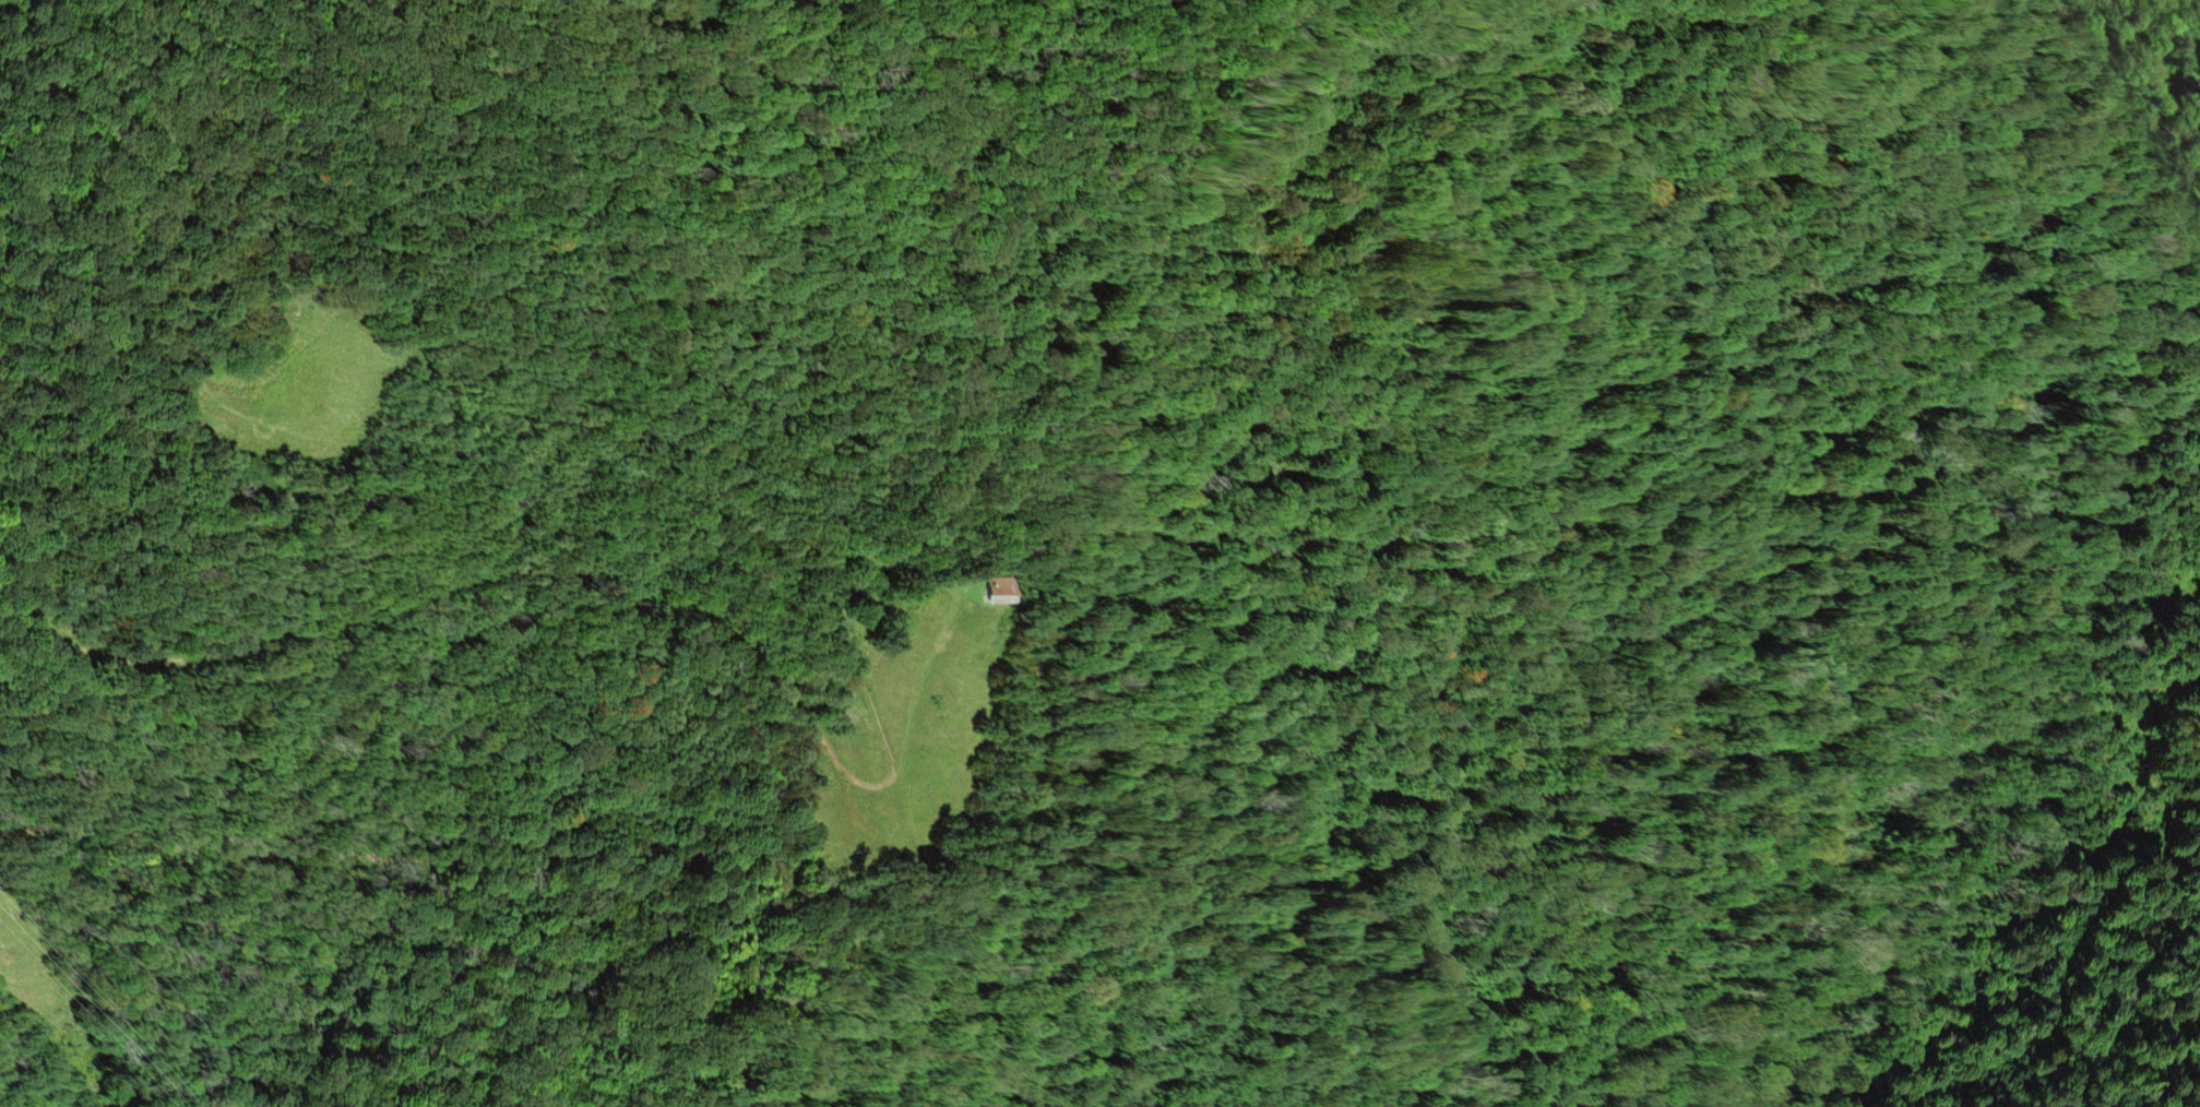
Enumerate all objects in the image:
road: (564, 571)
building: (1004, 588)
road: (340, 830)

